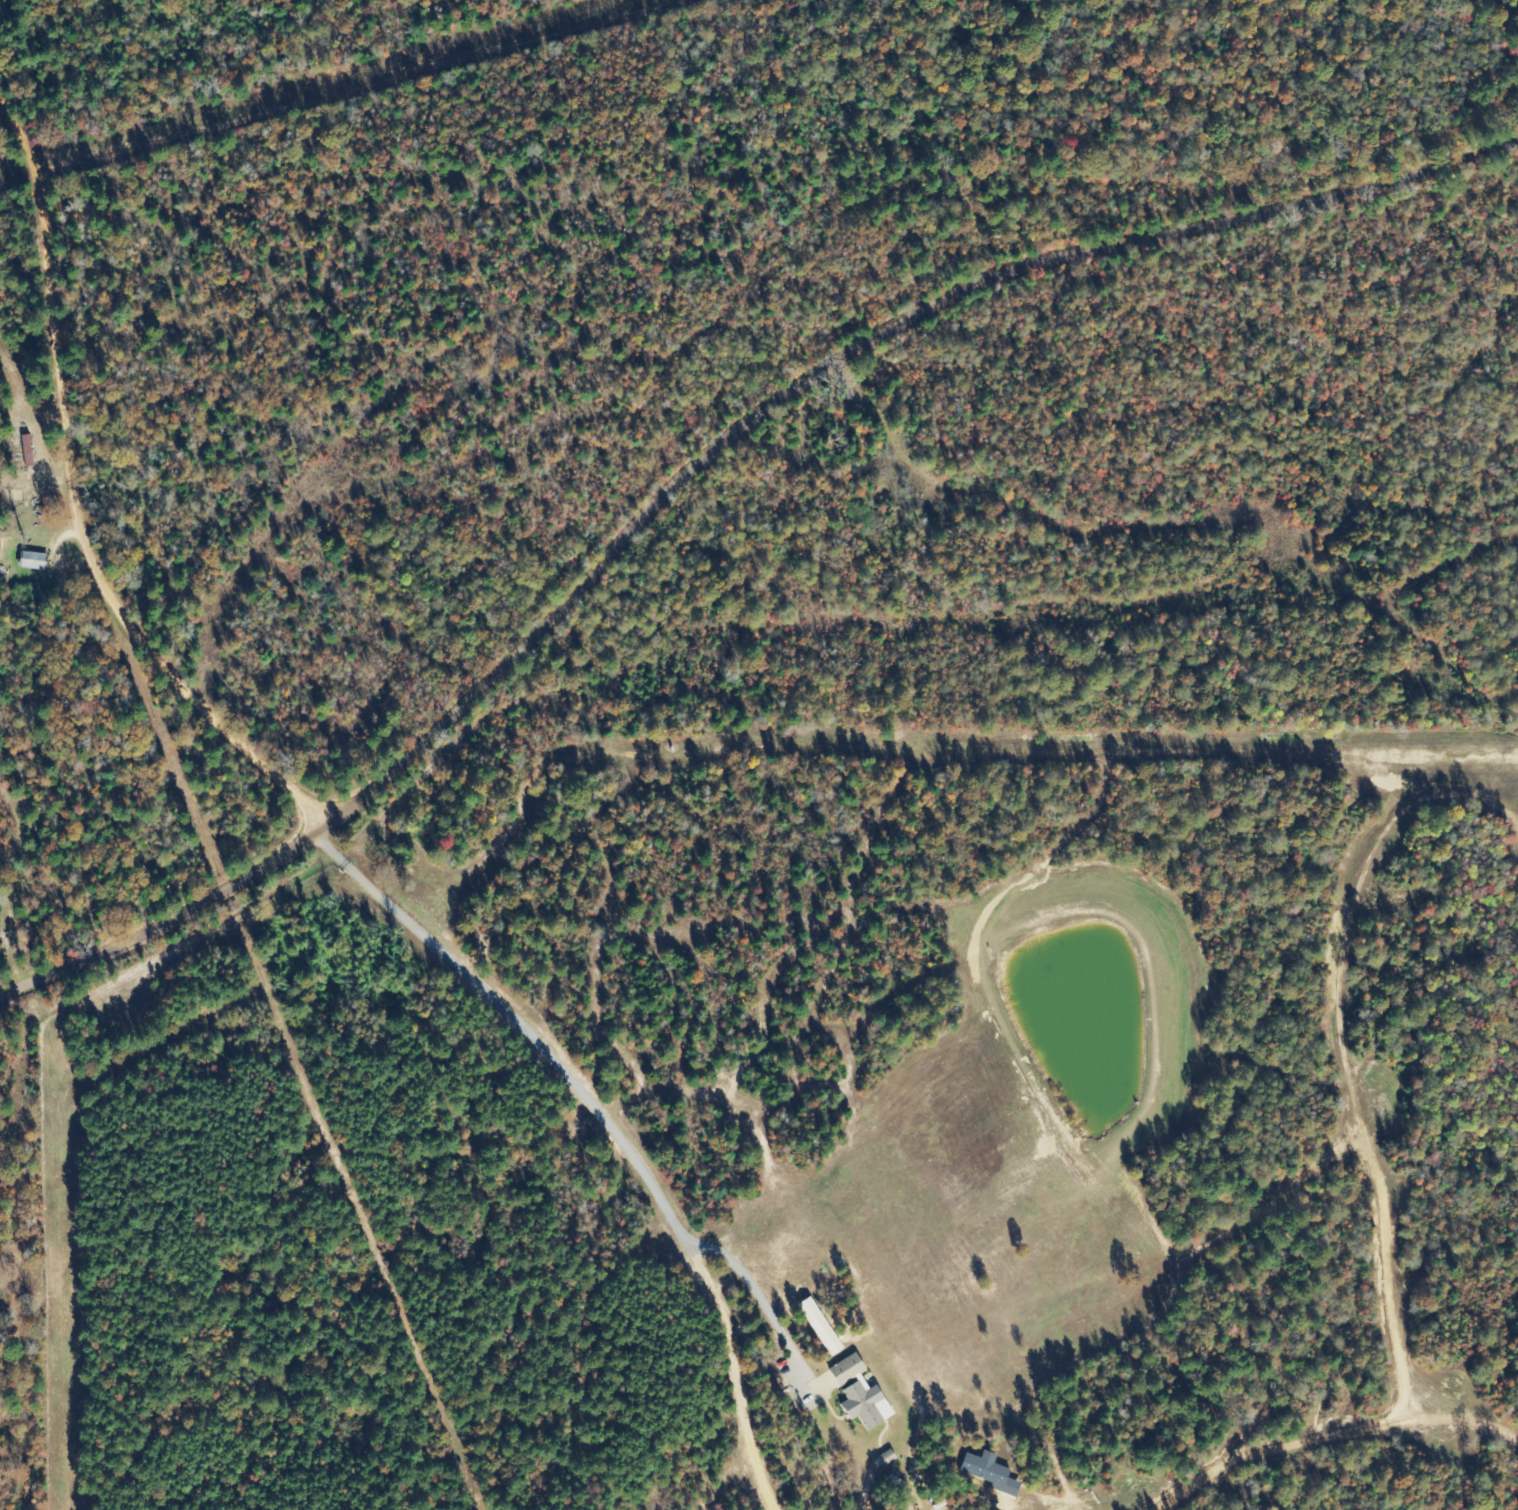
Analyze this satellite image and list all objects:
road: (703, 468)
road: (85, 499)
building: (32, 559)
road: (584, 1092)
building: (818, 1326)
building: (857, 1393)
building: (985, 1471)

